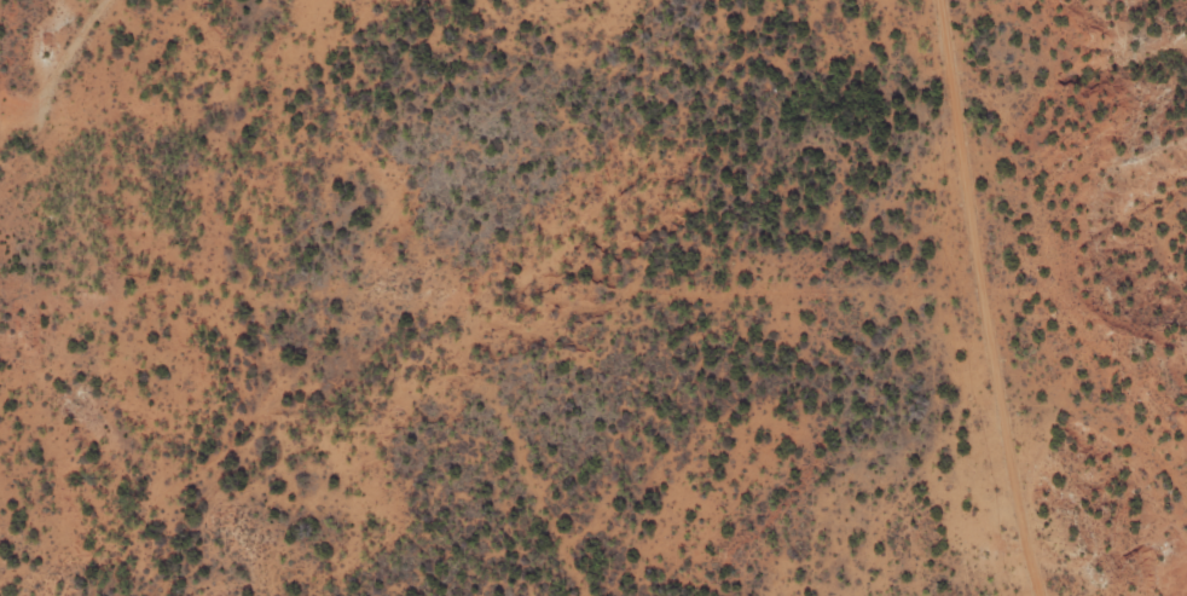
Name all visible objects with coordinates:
road: (1002, 299)

